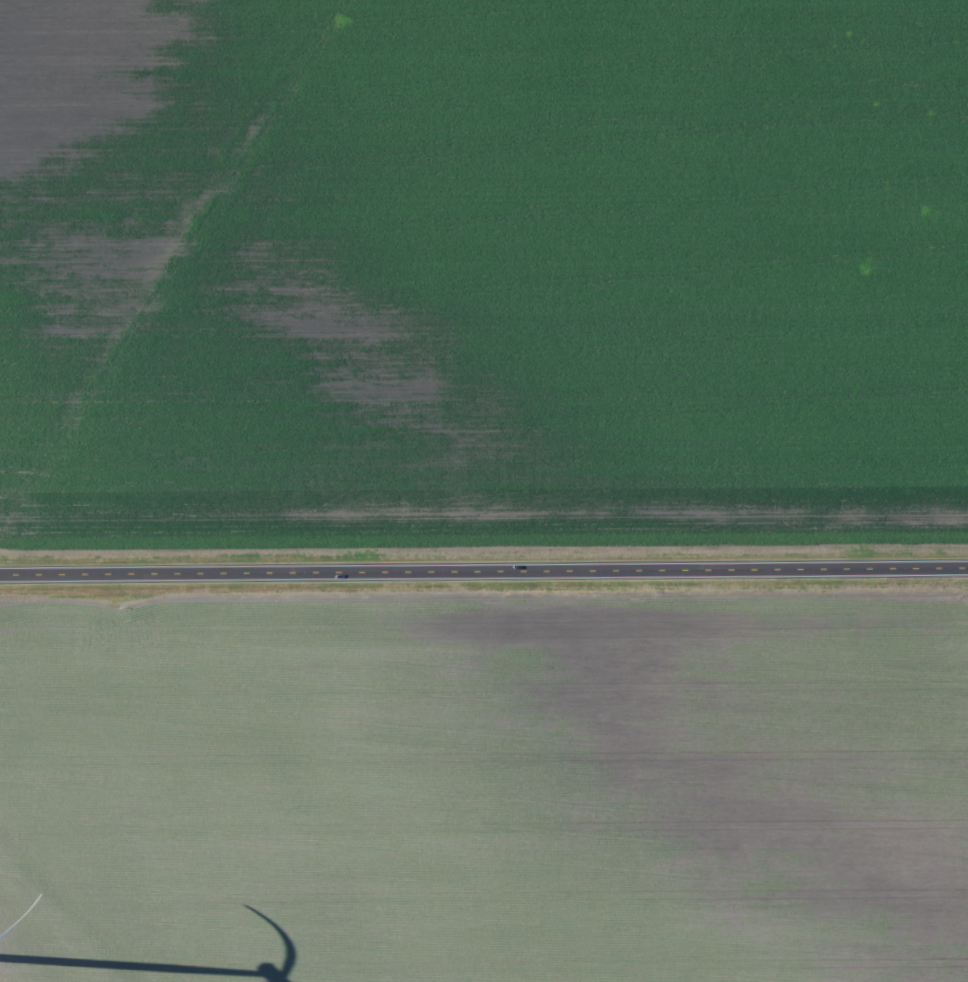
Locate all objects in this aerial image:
road: (484, 569)

